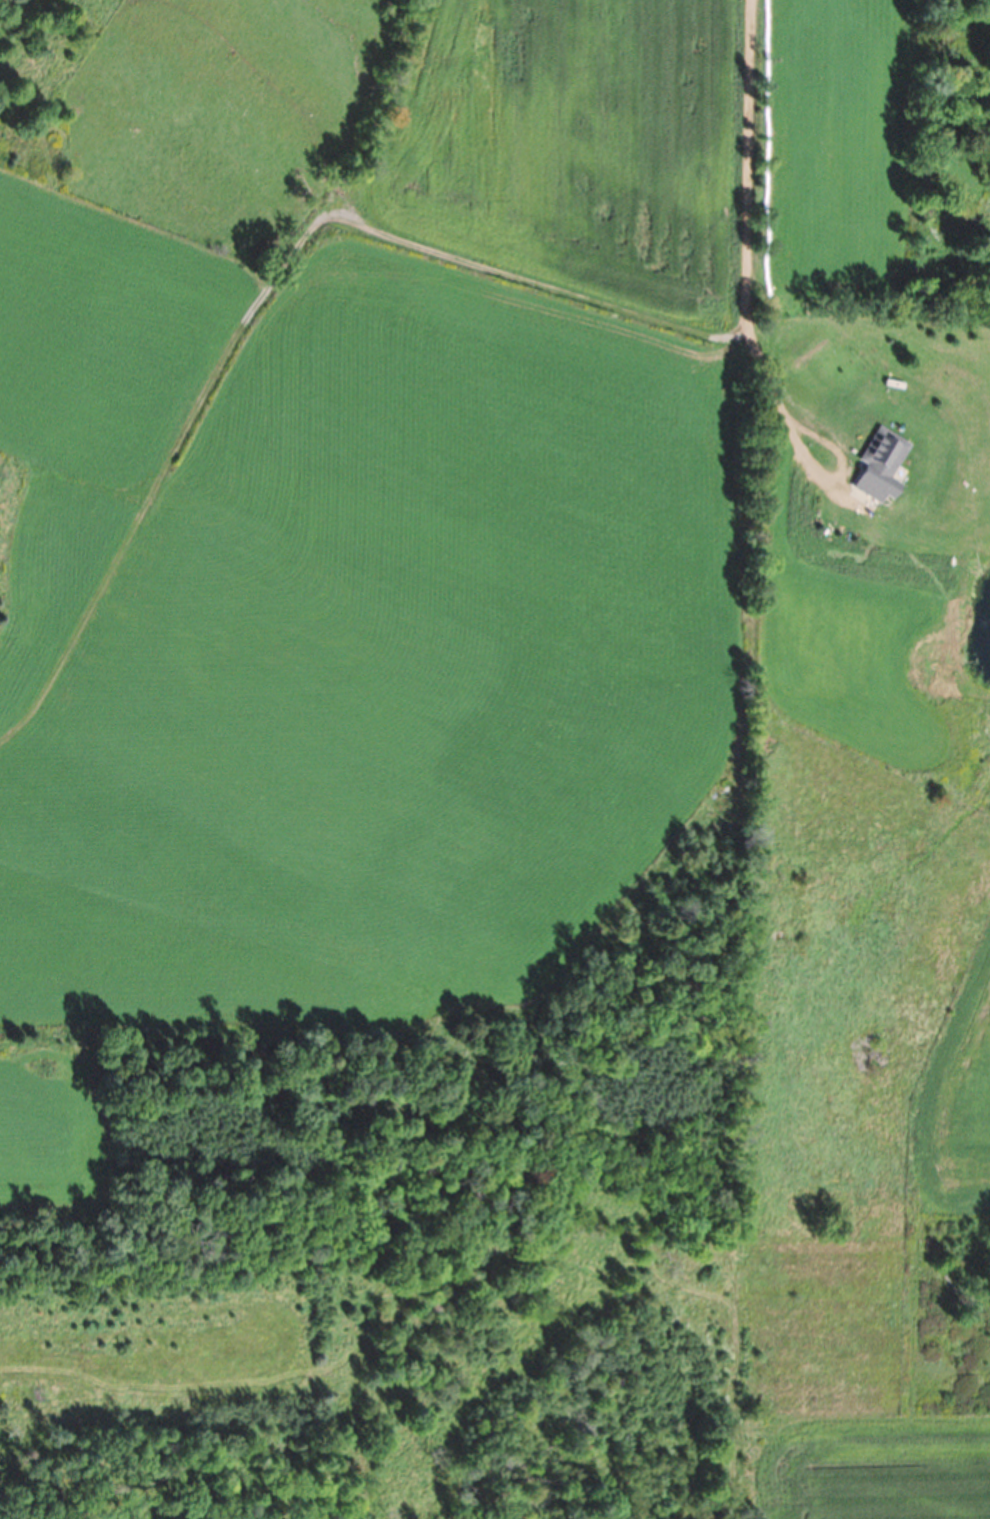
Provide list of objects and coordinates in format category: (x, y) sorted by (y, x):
building: (880, 465)

